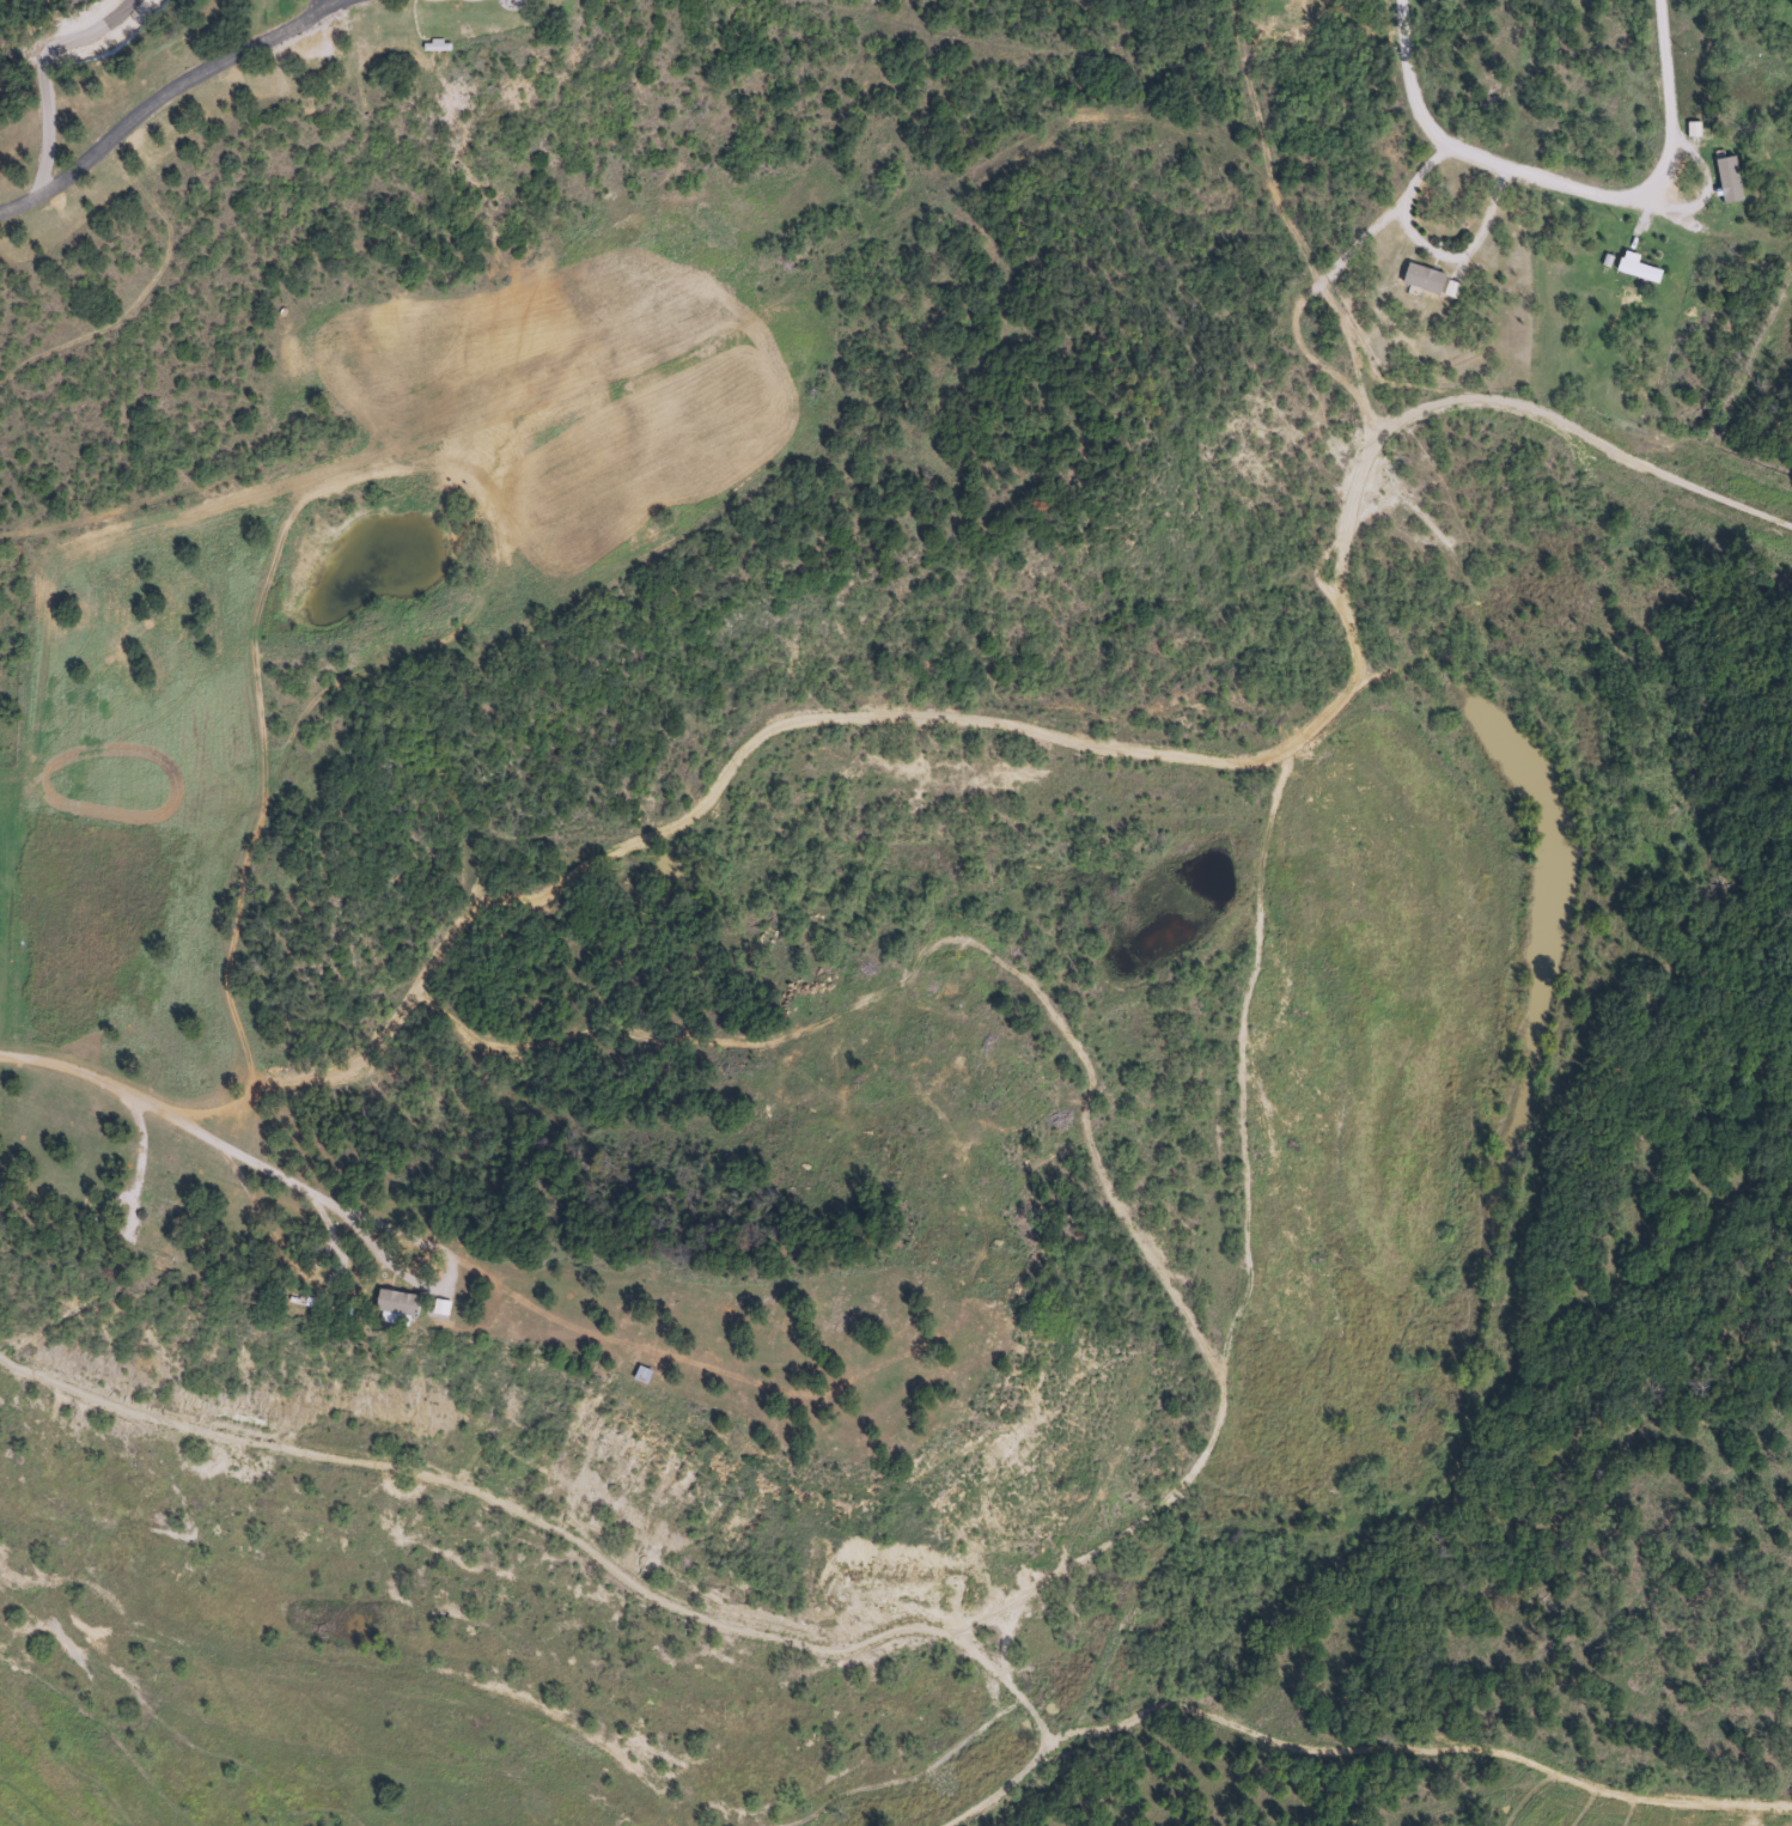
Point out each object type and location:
building: (1504, 17)
building: (1481, 74)
road: (165, 92)
road: (1434, 127)
road: (1675, 158)
building: (1727, 177)
road: (1432, 243)
building: (1638, 266)
building: (1430, 280)
road: (1365, 391)
road: (1587, 428)
building: (154, 1244)
building: (397, 1302)
road: (1354, 1742)

